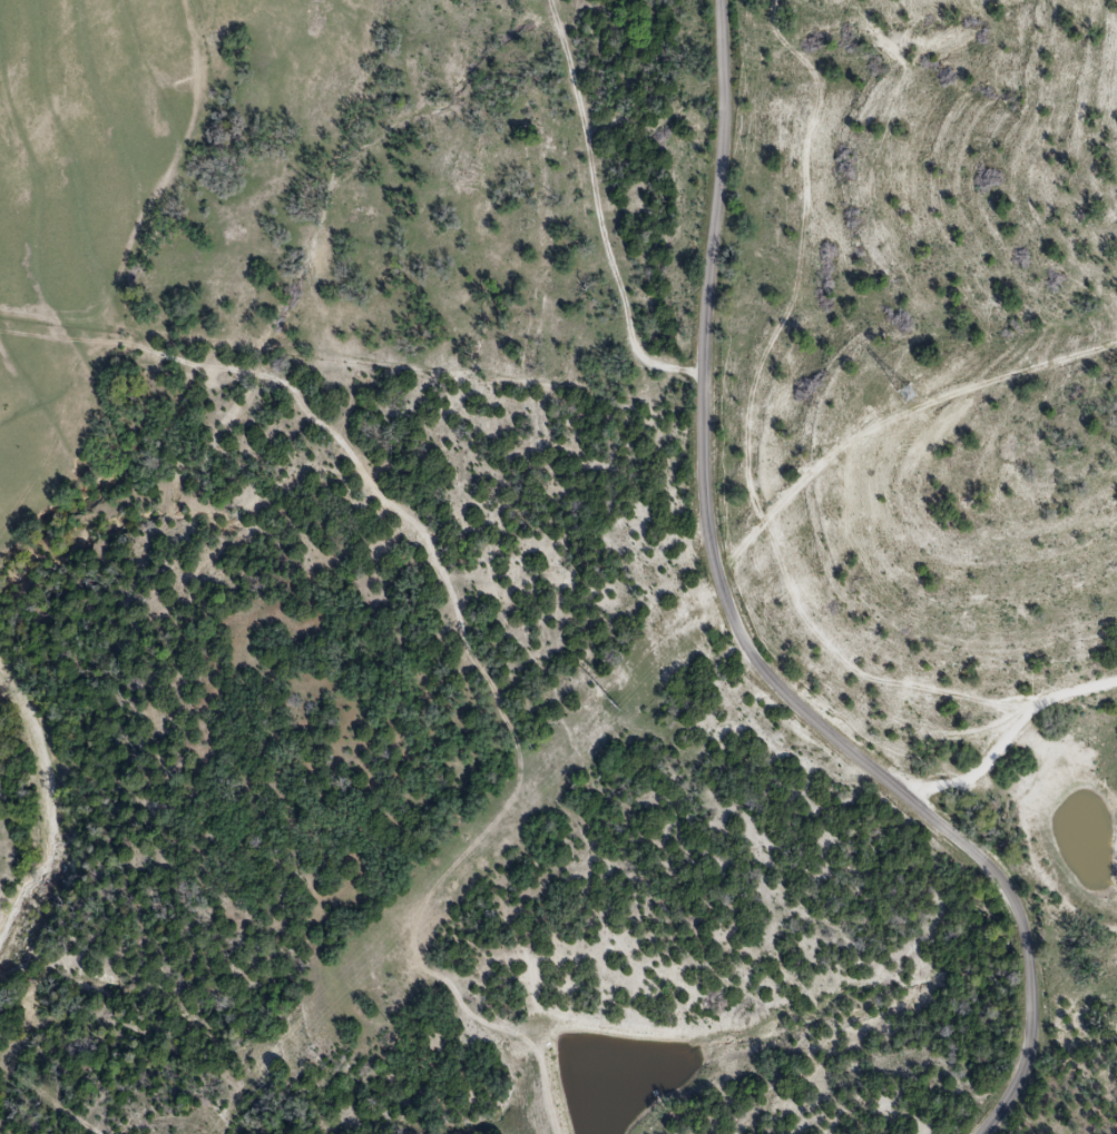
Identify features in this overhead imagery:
road: (601, 210)
power tower: (908, 394)
road: (738, 631)
power tower: (614, 704)
road: (1011, 739)

